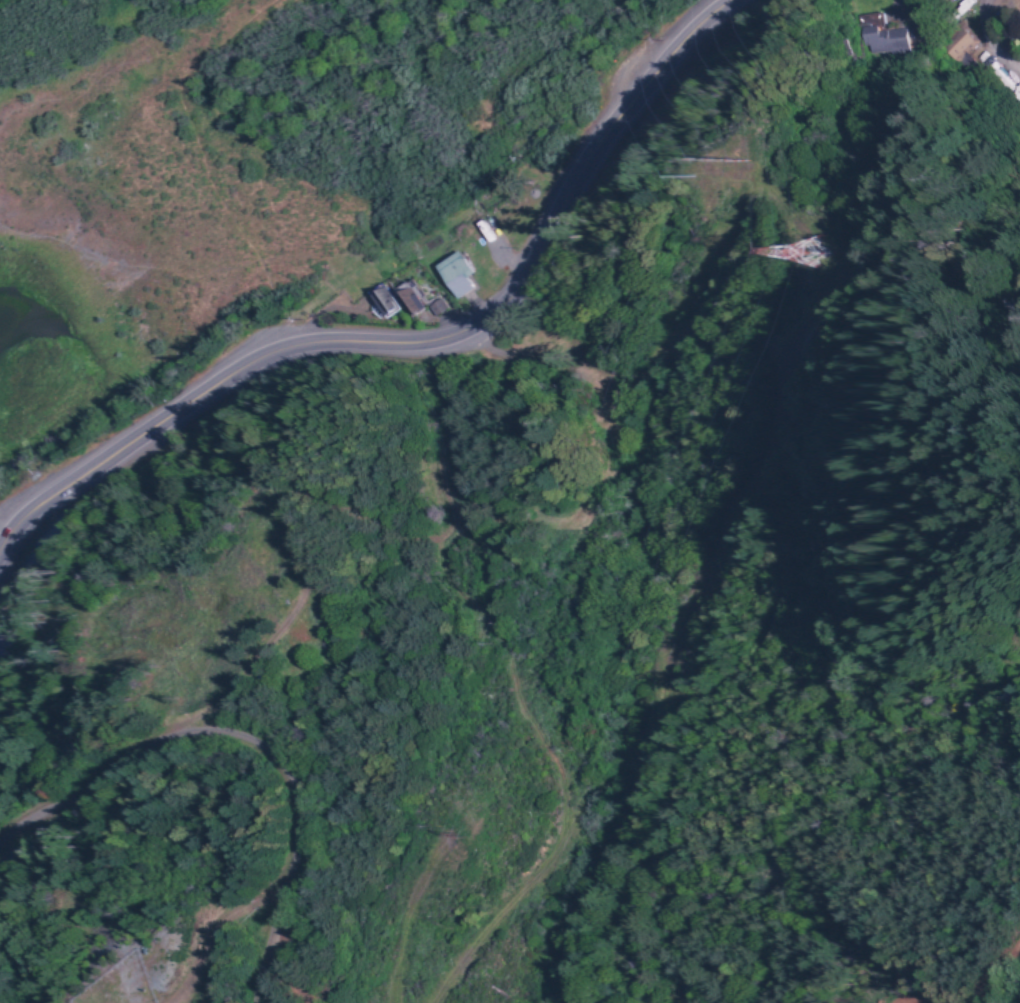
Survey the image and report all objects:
building: (885, 40)
power tower: (723, 164)
power tower: (817, 254)
building: (453, 273)
building: (409, 295)
building: (383, 300)
building: (436, 306)
road: (413, 346)
road: (8, 542)
road: (39, 768)
road: (38, 810)

